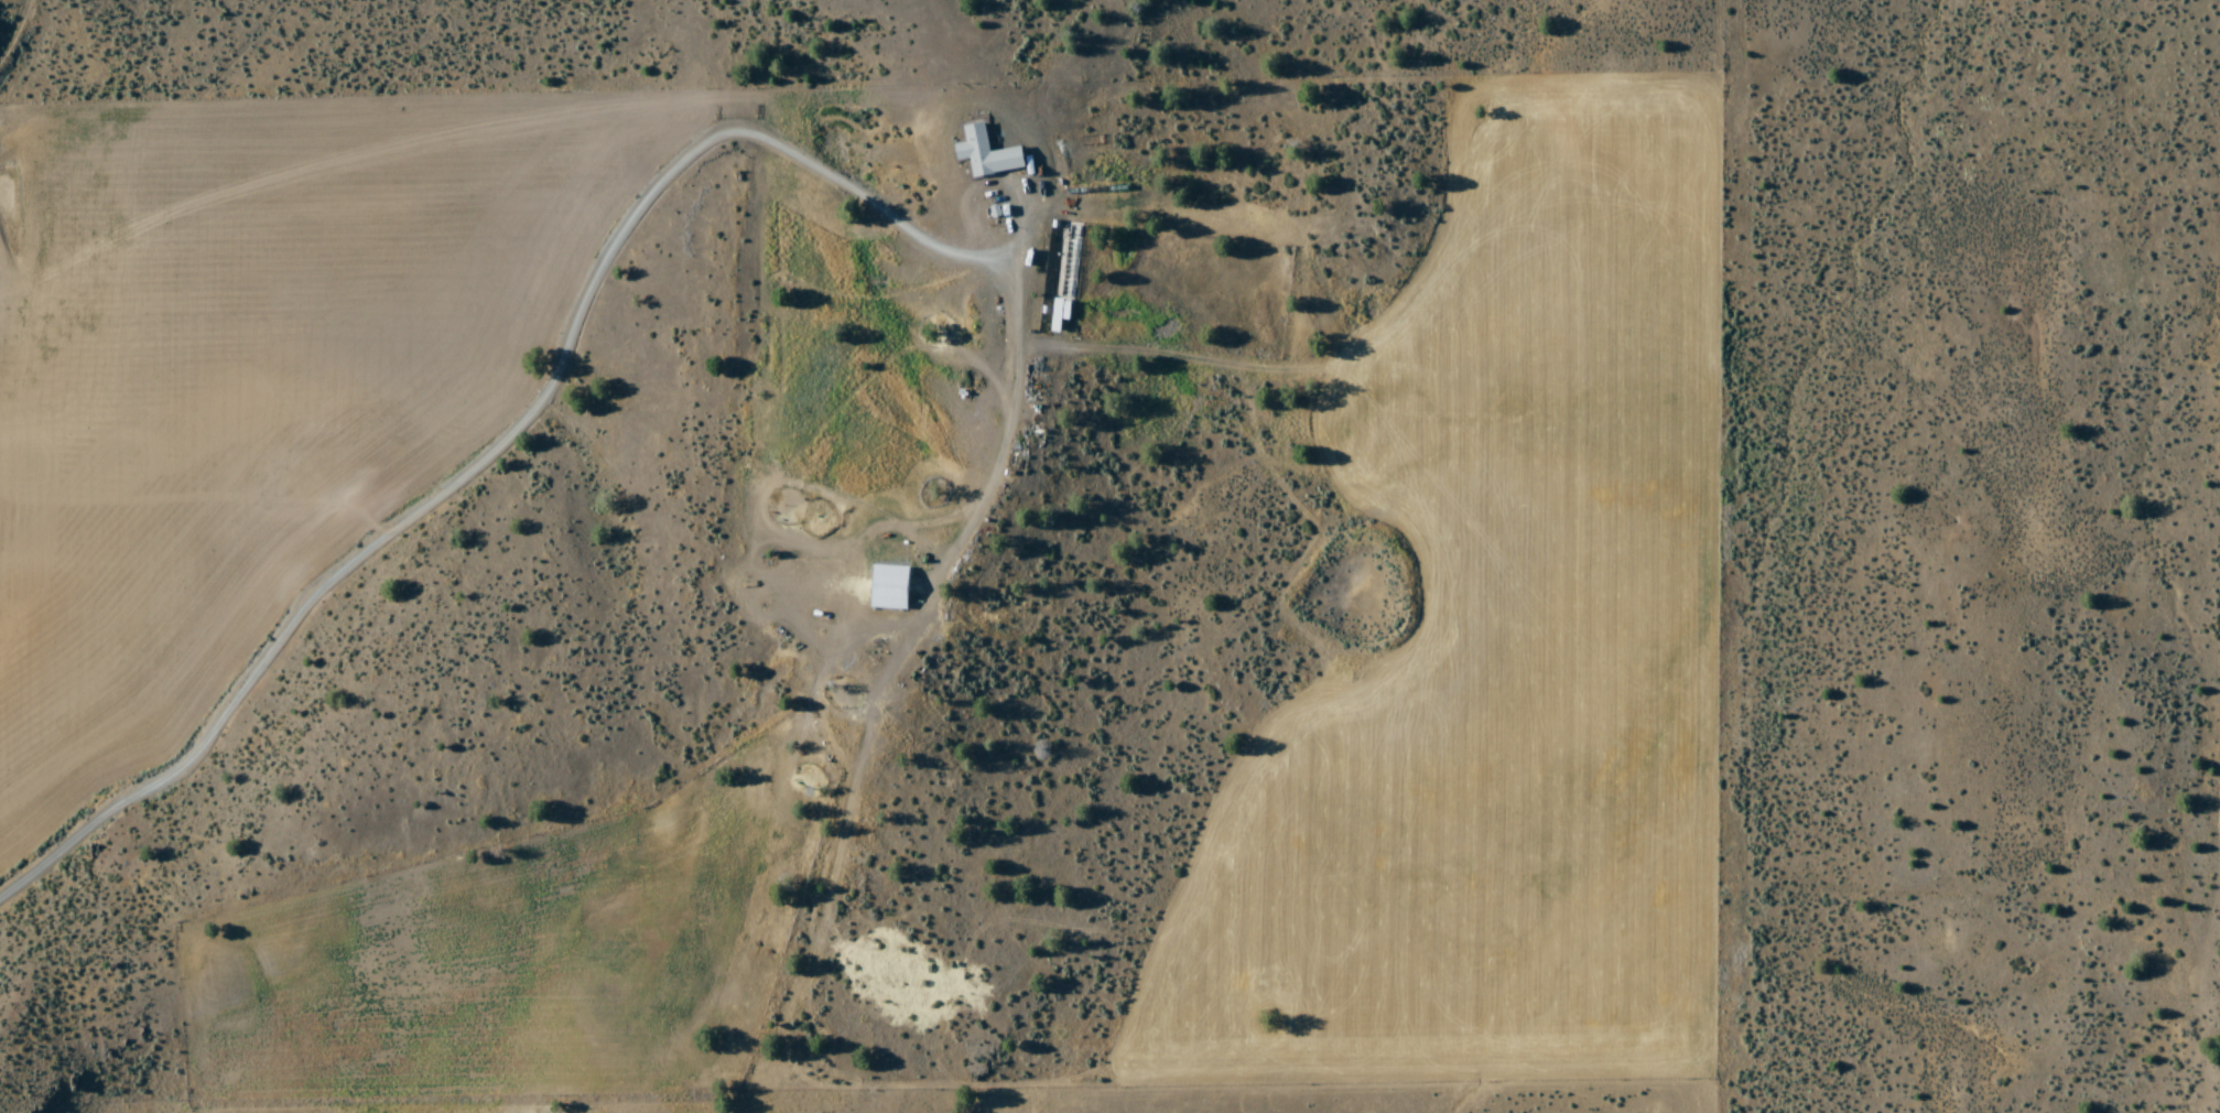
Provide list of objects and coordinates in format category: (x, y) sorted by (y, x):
building: (984, 153)
building: (1059, 313)
building: (888, 587)

